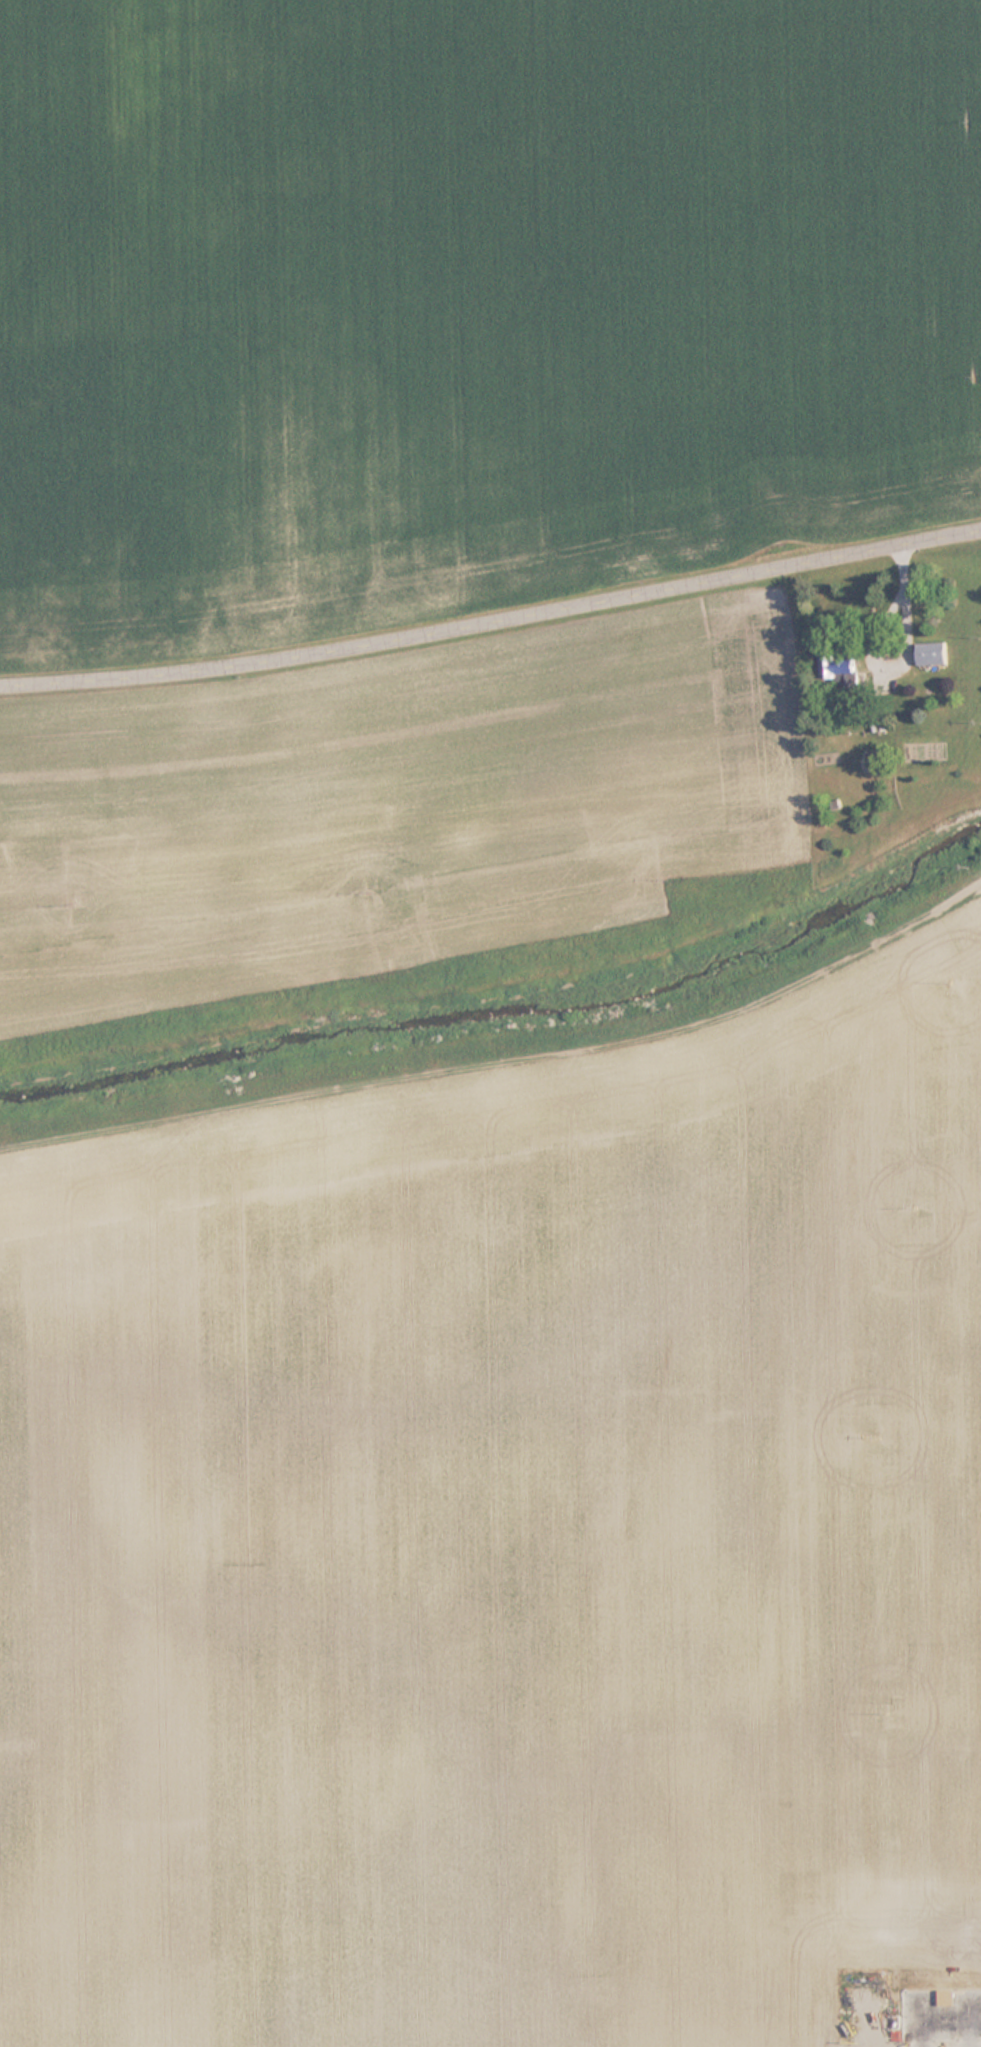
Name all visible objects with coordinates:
road: (491, 610)
building: (933, 653)
building: (841, 669)

